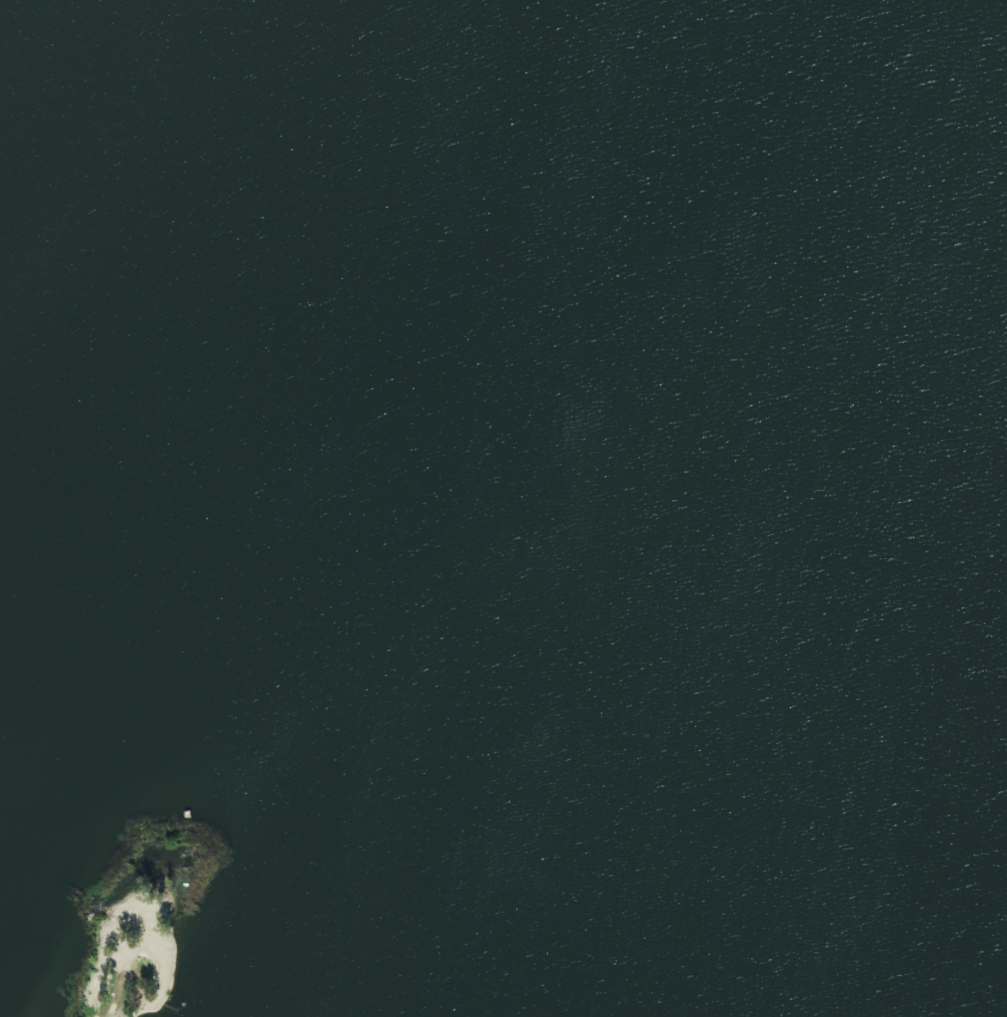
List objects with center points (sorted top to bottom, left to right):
river: (563, 445)
building: (144, 949)

